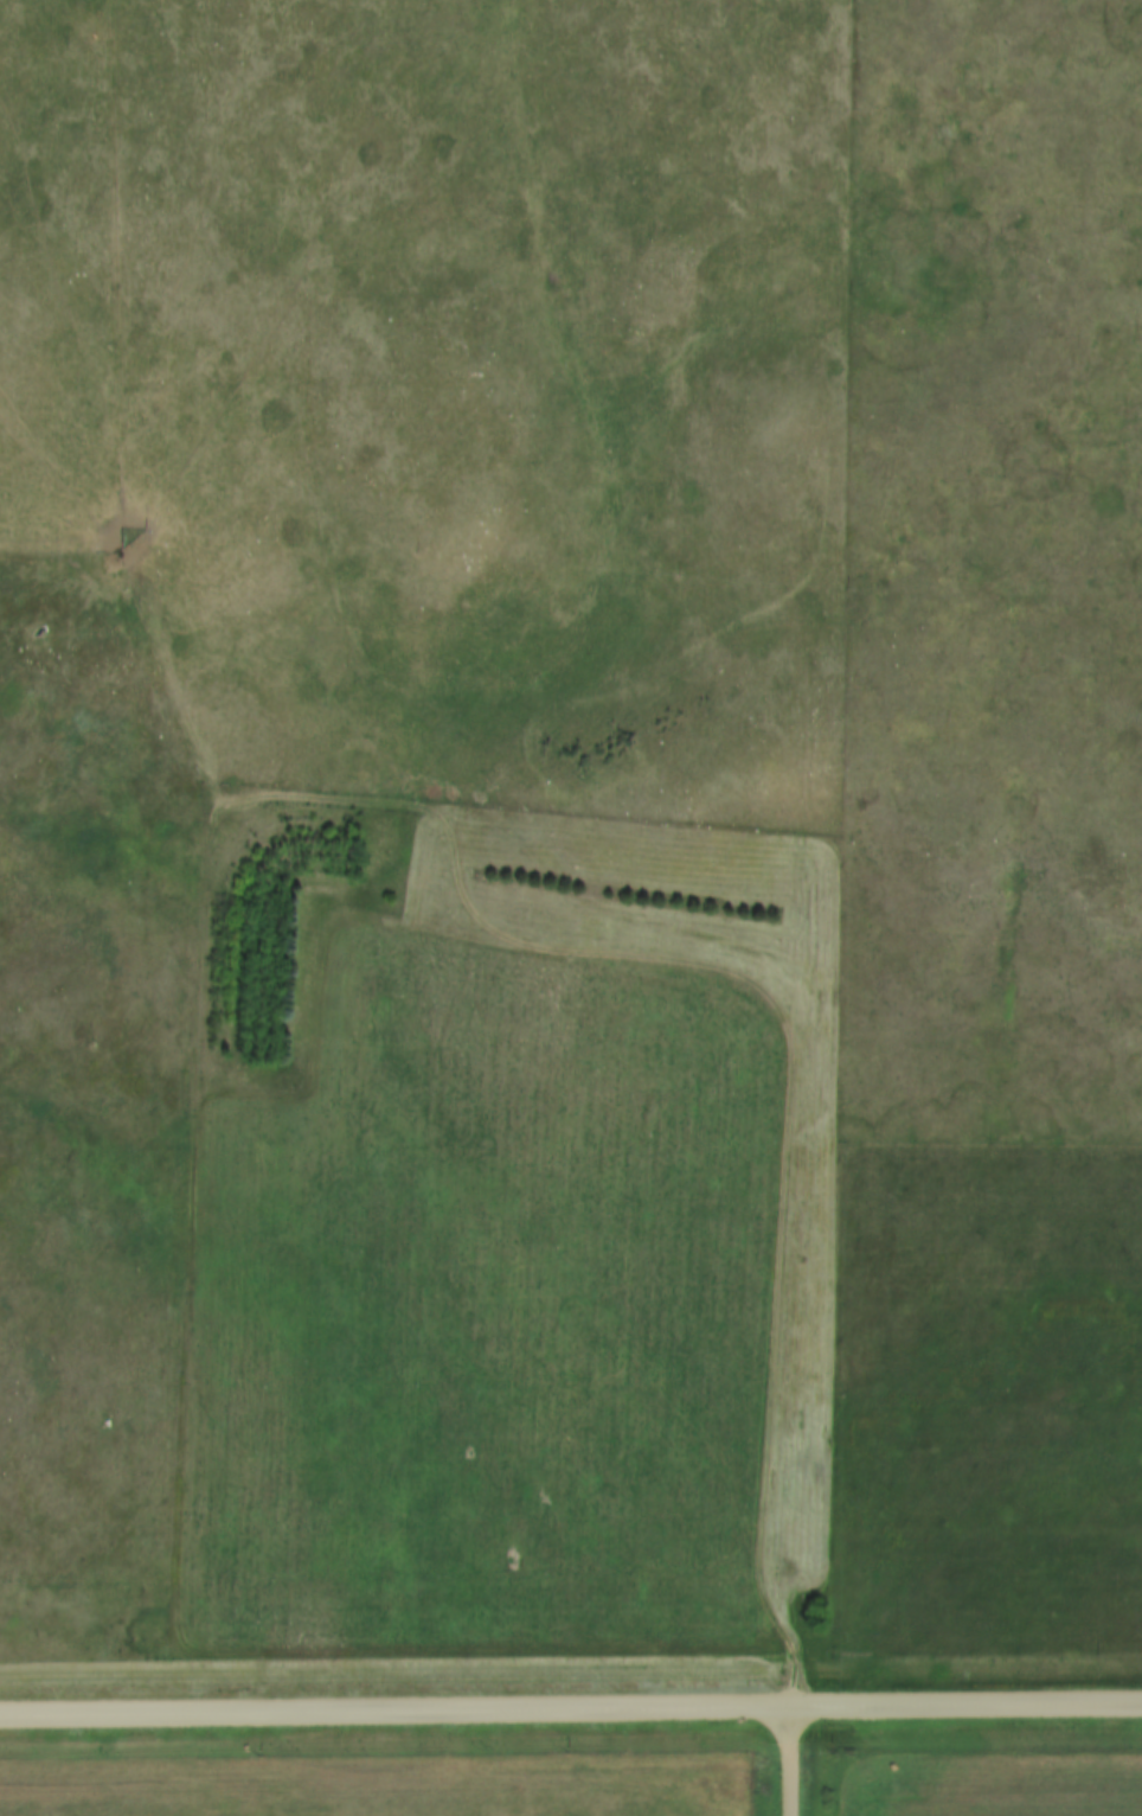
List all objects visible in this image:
road: (570, 1713)
road: (790, 1763)

